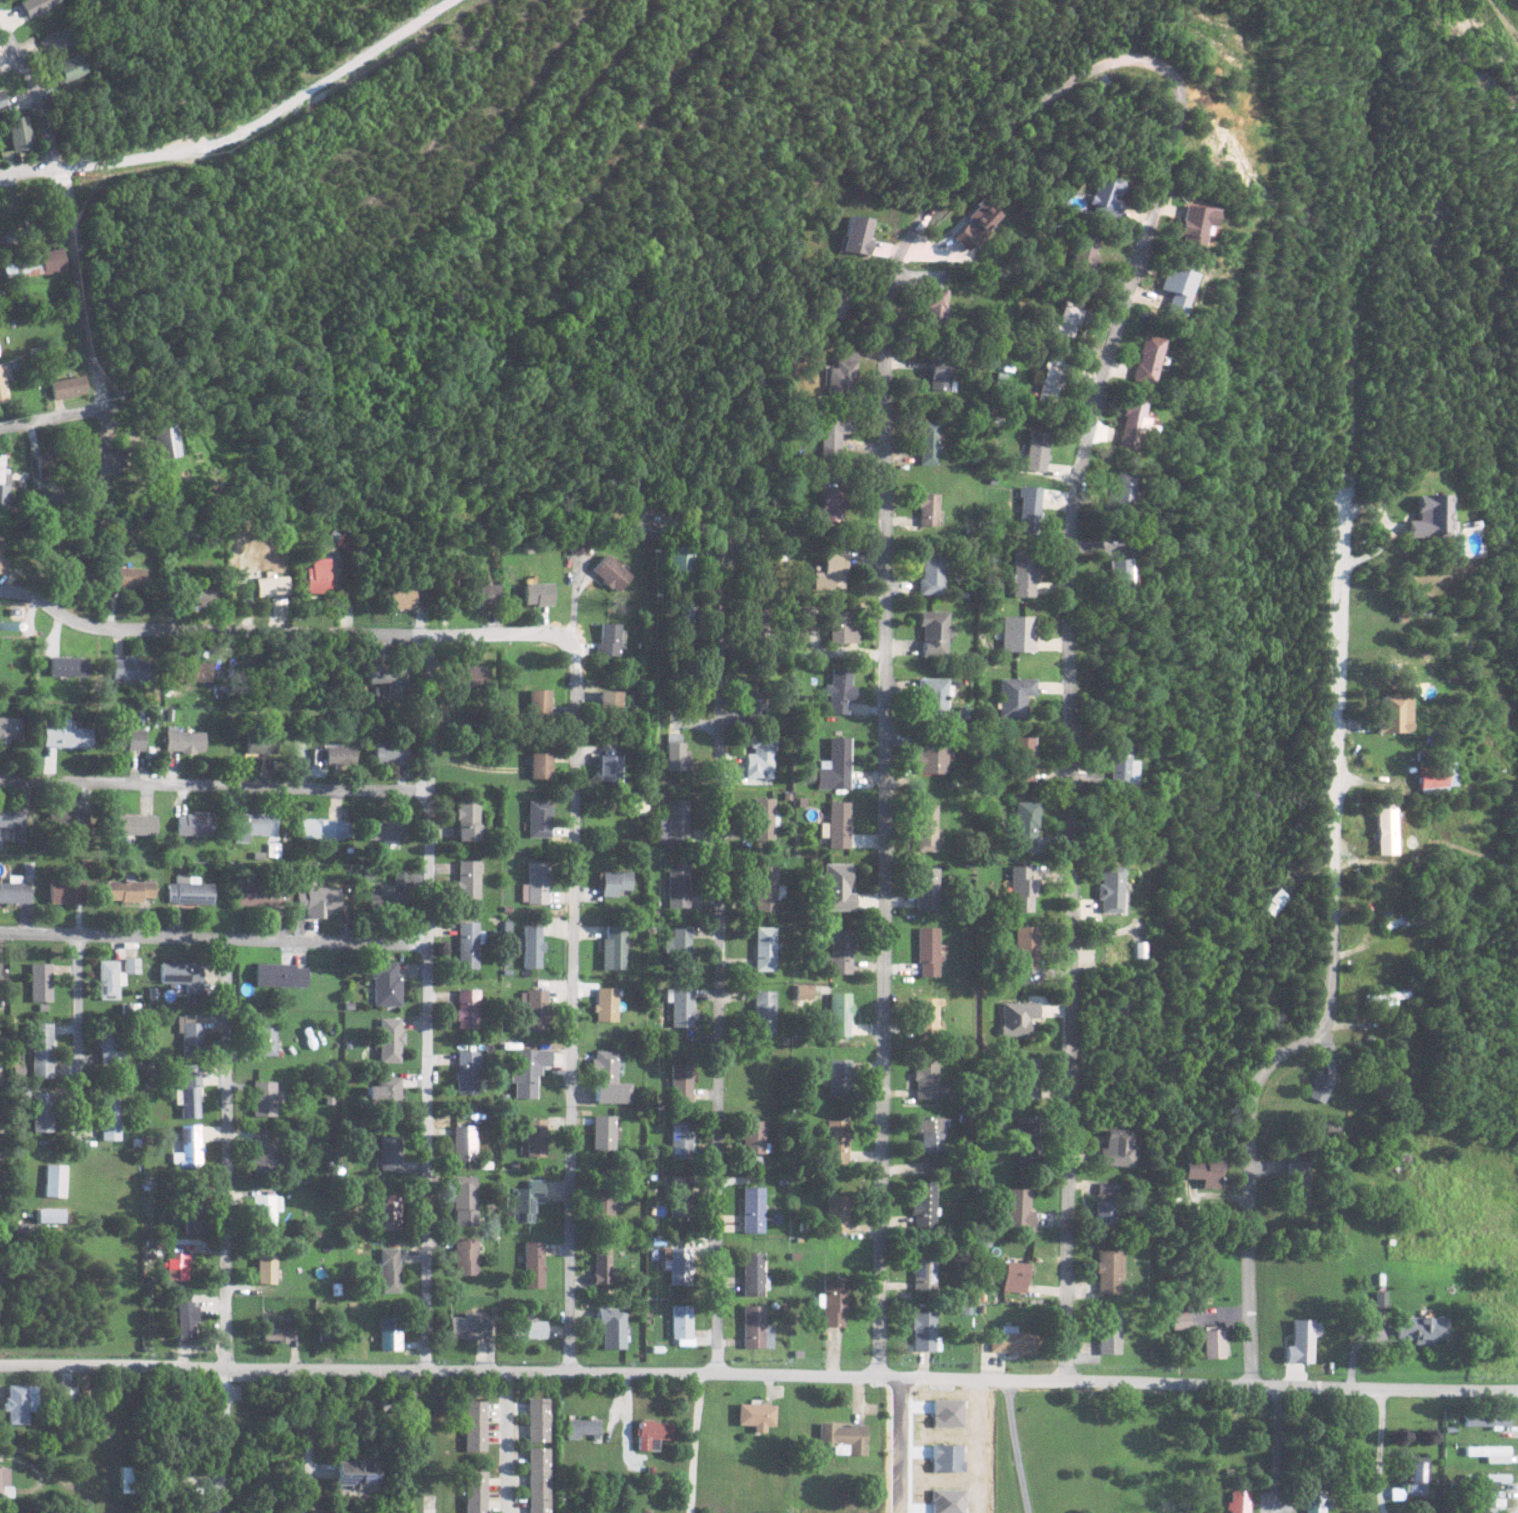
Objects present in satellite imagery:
building: (35, 6)
building: (51, 39)
building: (67, 69)
road: (34, 91)
building: (0, 104)
building: (16, 134)
road: (27, 172)
building: (1104, 194)
building: (1195, 222)
building: (976, 223)
building: (858, 233)
building: (1085, 250)
building: (50, 260)
road: (81, 282)
building: (1176, 287)
building: (838, 303)
building: (936, 304)
building: (1069, 312)
building: (1147, 359)
building: (841, 373)
building: (938, 374)
building: (1049, 379)
building: (3, 384)
building: (67, 386)
road: (54, 419)
building: (1130, 424)
building: (830, 435)
building: (164, 439)
building: (928, 442)
building: (1035, 449)
building: (107, 460)
building: (4, 487)
building: (1117, 494)
building: (830, 506)
building: (927, 508)
building: (1028, 509)
building: (1430, 516)
building: (191, 527)
building: (578, 545)
building: (0, 546)
building: (679, 558)
building: (830, 571)
building: (611, 572)
building: (1023, 572)
building: (1116, 572)
building: (930, 573)
building: (316, 574)
building: (127, 576)
building: (269, 585)
building: (538, 593)
building: (483, 594)
building: (200, 596)
building: (398, 597)
building: (276, 604)
building: (684, 615)
building: (761, 624)
building: (841, 626)
road: (279, 628)
building: (932, 631)
building: (1018, 632)
building: (608, 639)
building: (68, 665)
building: (132, 667)
road: (885, 669)
building: (472, 676)
building: (387, 678)
road: (1070, 687)
building: (839, 690)
building: (932, 695)
building: (1013, 695)
building: (609, 701)
building: (539, 704)
building: (756, 705)
building: (1396, 713)
building: (10, 728)
building: (67, 735)
building: (129, 739)
building: (184, 741)
building: (257, 744)
building: (674, 751)
building: (389, 752)
building: (758, 754)
building: (338, 755)
building: (1019, 758)
building: (929, 759)
building: (539, 764)
building: (608, 765)
building: (834, 765)
building: (1118, 766)
building: (1438, 773)
road: (215, 786)
building: (537, 818)
building: (761, 818)
building: (69, 820)
building: (466, 821)
building: (13, 822)
building: (673, 822)
building: (195, 823)
building: (1022, 823)
building: (136, 824)
building: (837, 824)
building: (251, 825)
building: (925, 826)
building: (321, 828)
building: (1388, 828)
building: (384, 829)
building: (466, 879)
building: (613, 881)
building: (534, 882)
building: (676, 884)
building: (837, 887)
building: (765, 888)
building: (926, 888)
building: (1019, 888)
building: (1107, 889)
building: (15, 890)
building: (129, 890)
building: (191, 890)
building: (67, 891)
building: (263, 894)
building: (387, 895)
building: (318, 901)
building: (1275, 902)
road: (214, 940)
building: (466, 944)
building: (678, 944)
building: (531, 945)
building: (1025, 946)
building: (763, 948)
building: (612, 949)
building: (927, 951)
building: (837, 953)
road: (1335, 963)
building: (131, 965)
road: (722, 968)
building: (281, 974)
building: (183, 975)
building: (3, 976)
building: (108, 979)
building: (41, 982)
building: (385, 984)
building: (802, 991)
building: (1392, 997)
road: (572, 1001)
road: (429, 1002)
building: (606, 1004)
building: (681, 1004)
building: (467, 1008)
building: (533, 1010)
building: (763, 1012)
building: (839, 1013)
building: (926, 1015)
building: (1017, 1017)
building: (190, 1034)
road: (78, 1036)
building: (265, 1038)
building: (390, 1040)
building: (108, 1048)
building: (41, 1050)
building: (528, 1071)
building: (466, 1072)
building: (837, 1075)
building: (609, 1078)
building: (926, 1078)
building: (1027, 1078)
building: (681, 1082)
building: (1322, 1086)
building: (384, 1091)
building: (187, 1094)
building: (263, 1098)
building: (41, 1111)
building: (108, 1119)
building: (604, 1132)
building: (928, 1134)
building: (754, 1136)
building: (535, 1137)
building: (682, 1140)
building: (838, 1141)
building: (1026, 1142)
building: (463, 1143)
building: (188, 1147)
building: (1115, 1148)
building: (390, 1153)
road: (229, 1154)
building: (266, 1157)
building: (1203, 1171)
building: (54, 1180)
building: (1301, 1181)
building: (1102, 1189)
building: (680, 1196)
building: (464, 1201)
building: (526, 1201)
building: (603, 1203)
building: (924, 1205)
building: (1017, 1208)
building: (754, 1209)
building: (265, 1211)
building: (389, 1211)
building: (838, 1213)
building: (49, 1215)
building: (1103, 1215)
building: (193, 1217)
building: (23, 1234)
building: (465, 1256)
building: (603, 1263)
building: (534, 1264)
building: (177, 1266)
building: (266, 1267)
building: (678, 1267)
building: (389, 1269)
building: (1109, 1271)
building: (753, 1274)
building: (925, 1274)
building: (1014, 1276)
building: (1380, 1298)
building: (835, 1301)
building: (185, 1320)
building: (1182, 1320)
building: (683, 1325)
building: (469, 1326)
building: (530, 1328)
building: (613, 1328)
building: (756, 1328)
building: (1422, 1329)
building: (277, 1330)
building: (924, 1330)
building: (1109, 1332)
building: (389, 1333)
building: (1303, 1341)
building: (1011, 1342)
building: (1215, 1343)
road: (759, 1373)
building: (67, 1395)
building: (19, 1404)
building: (756, 1416)
building: (536, 1419)
building: (1485, 1420)
building: (473, 1426)
building: (580, 1428)
building: (652, 1434)
building: (843, 1438)
road: (223, 1440)
road: (499, 1441)
road: (691, 1442)
road: (1011, 1446)
road: (1280, 1448)
building: (1489, 1453)
building: (359, 1473)
building: (1415, 1476)
building: (1494, 1478)
building: (124, 1479)
building: (536, 1480)
building: (4, 1484)
building: (474, 1492)
building: (1239, 1502)
building: (1316, 1502)
building: (1493, 1505)

